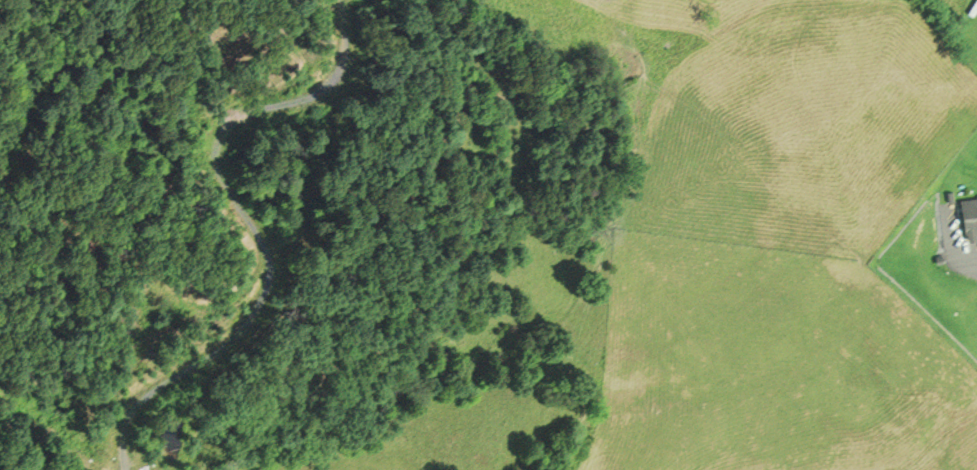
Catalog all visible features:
building: (968, 215)
road: (251, 225)
parking lot: (955, 241)
road: (952, 247)

